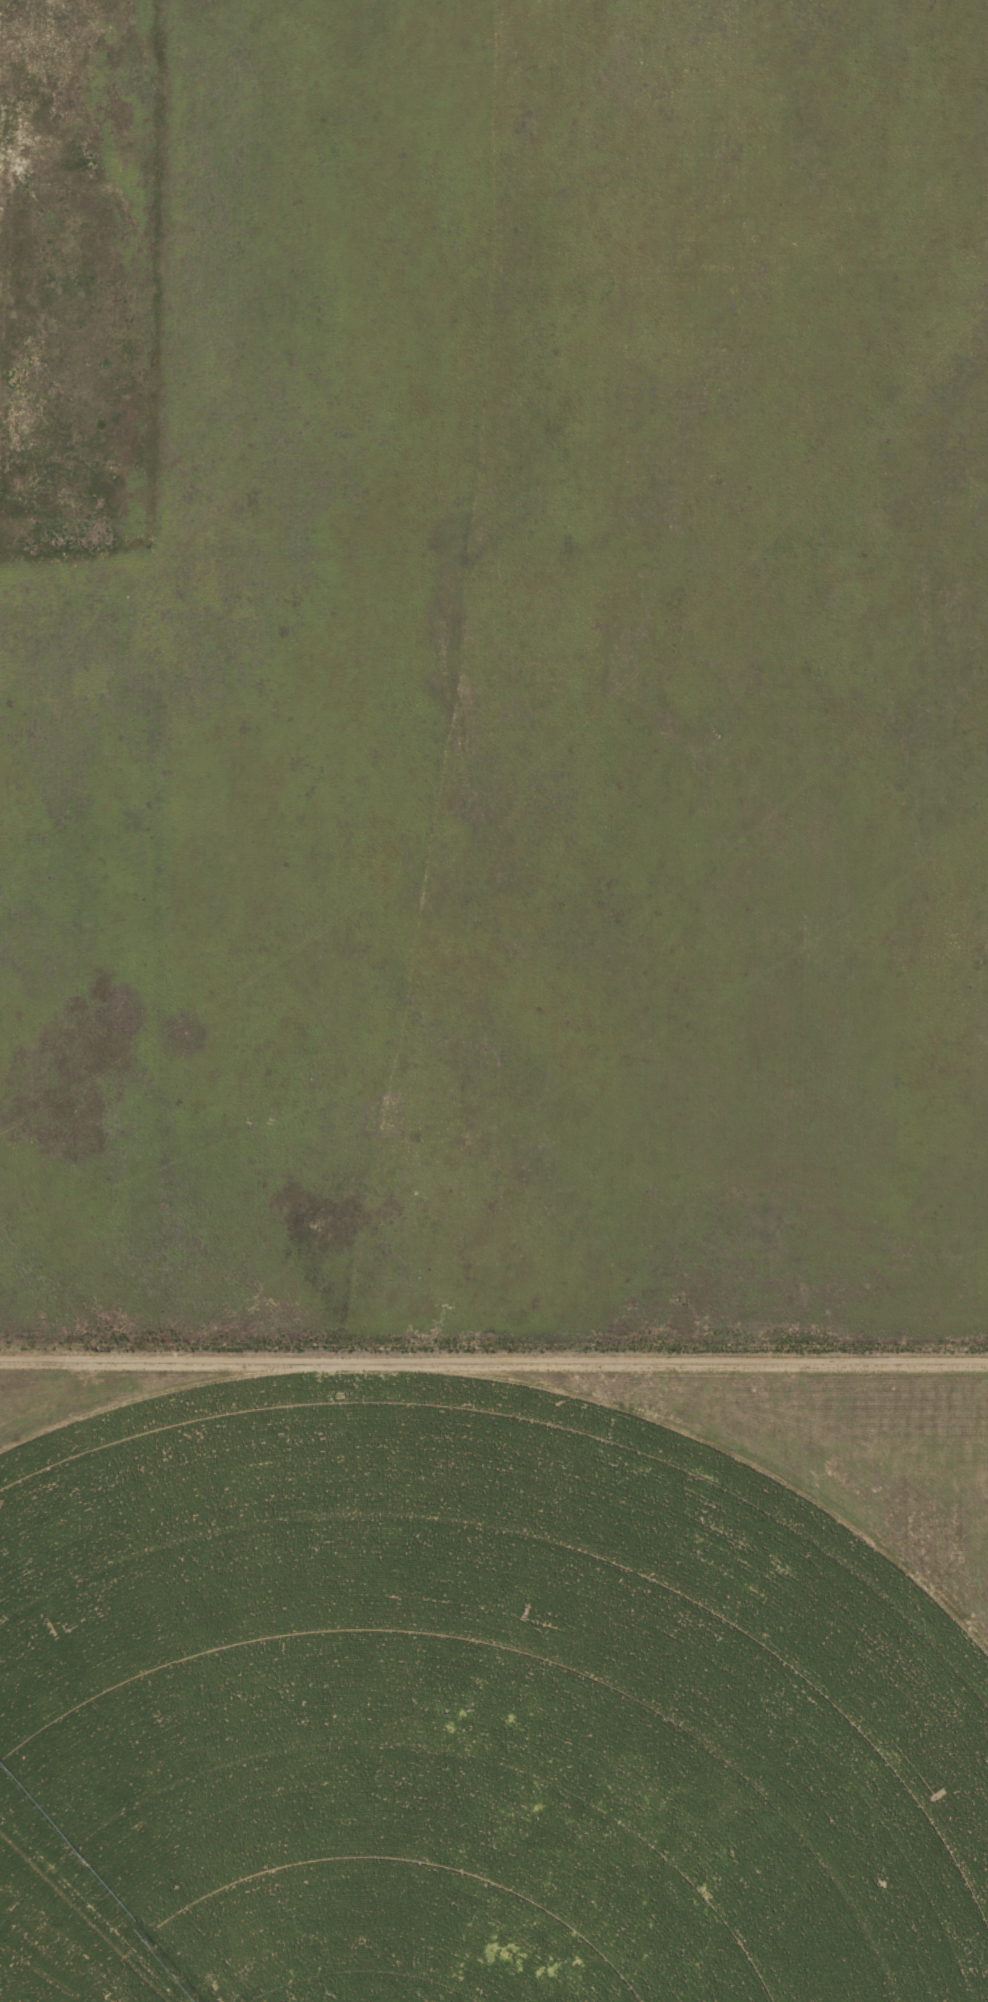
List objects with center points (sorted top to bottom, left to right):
road: (494, 1378)

